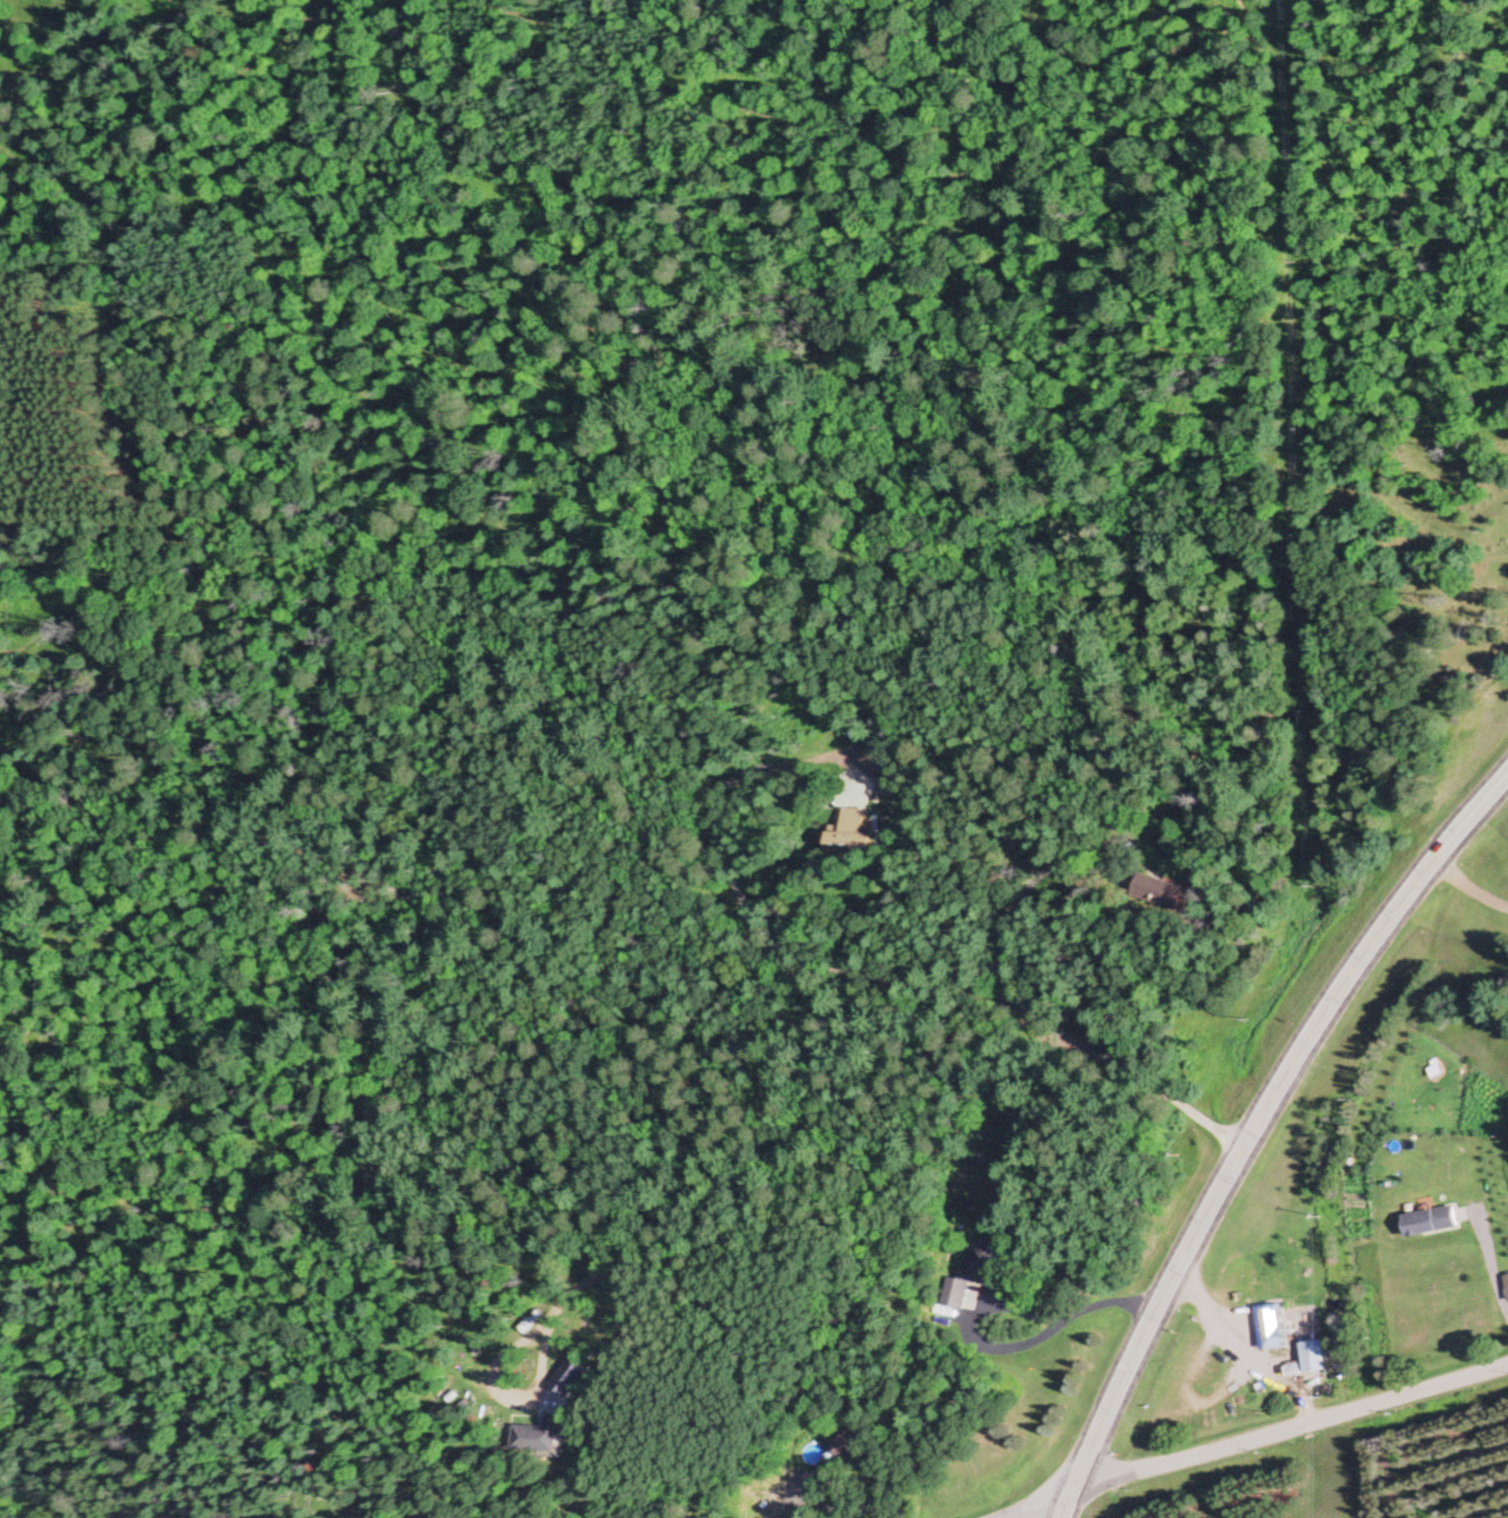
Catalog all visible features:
building: (852, 836)
building: (1161, 892)
road: (1254, 1127)
building: (1426, 1222)
building: (984, 1247)
building: (1505, 1287)
building: (959, 1293)
building: (533, 1321)
building: (1271, 1327)
road: (1247, 1344)
road: (1002, 1351)
building: (1311, 1357)
building: (567, 1378)
road: (1289, 1430)
building: (536, 1438)
building: (847, 1444)
building: (812, 1455)
road: (1040, 1505)

